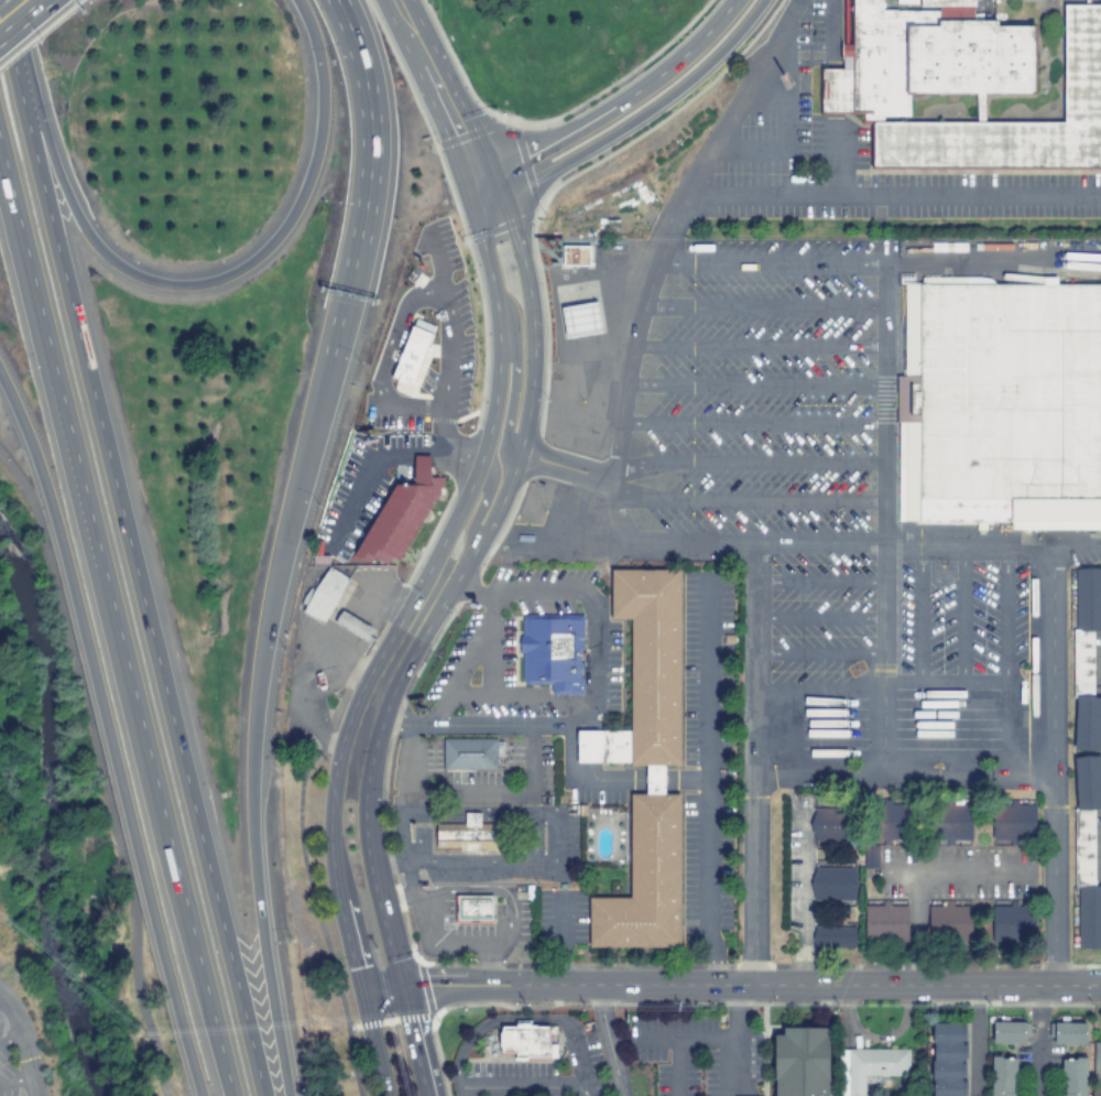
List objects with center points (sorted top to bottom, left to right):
road: (3, 2)
road: (340, 7)
road: (23, 19)
building: (963, 86)
road: (442, 98)
road: (618, 104)
road: (639, 117)
road: (673, 229)
building: (576, 254)
road: (774, 262)
road: (186, 285)
road: (767, 306)
building: (581, 319)
gas station: (581, 319)
road: (761, 346)
building: (412, 354)
road: (52, 376)
road: (756, 387)
road: (509, 400)
building: (1000, 403)
road: (754, 424)
road: (751, 462)
road: (564, 471)
road: (749, 499)
road: (479, 504)
building: (400, 516)
parking lot: (828, 519)
road: (887, 519)
road: (284, 542)
road: (970, 543)
road: (1077, 544)
road: (729, 545)
road: (131, 555)
building: (320, 560)
road: (447, 590)
building: (324, 595)
road: (411, 604)
road: (116, 619)
building: (352, 626)
gas station: (352, 626)
building: (553, 652)
road: (825, 656)
building: (320, 681)
road: (108, 731)
building: (470, 753)
building: (1086, 758)
building: (645, 763)
road: (1055, 764)
road: (761, 766)
road: (100, 770)
road: (908, 774)
building: (581, 810)
building: (948, 822)
river: (37, 824)
building: (1012, 824)
building: (828, 825)
building: (886, 832)
building: (467, 834)
building: (832, 885)
building: (563, 886)
building: (530, 892)
building: (472, 909)
building: (948, 922)
building: (1005, 924)
building: (840, 937)
road: (324, 938)
road: (359, 944)
road: (752, 986)
traffic signals: (405, 989)
road: (384, 996)
road: (357, 1009)
road: (519, 1020)
building: (1009, 1032)
building: (1067, 1034)
road: (10, 1039)
building: (526, 1041)
road: (608, 1041)
road: (417, 1042)
road: (22, 1044)
road: (378, 1051)
parking lot: (12, 1059)
building: (1098, 1059)
building: (948, 1060)
building: (800, 1062)
building: (1002, 1076)
building: (1072, 1077)
road: (14, 1081)
road: (520, 1088)

